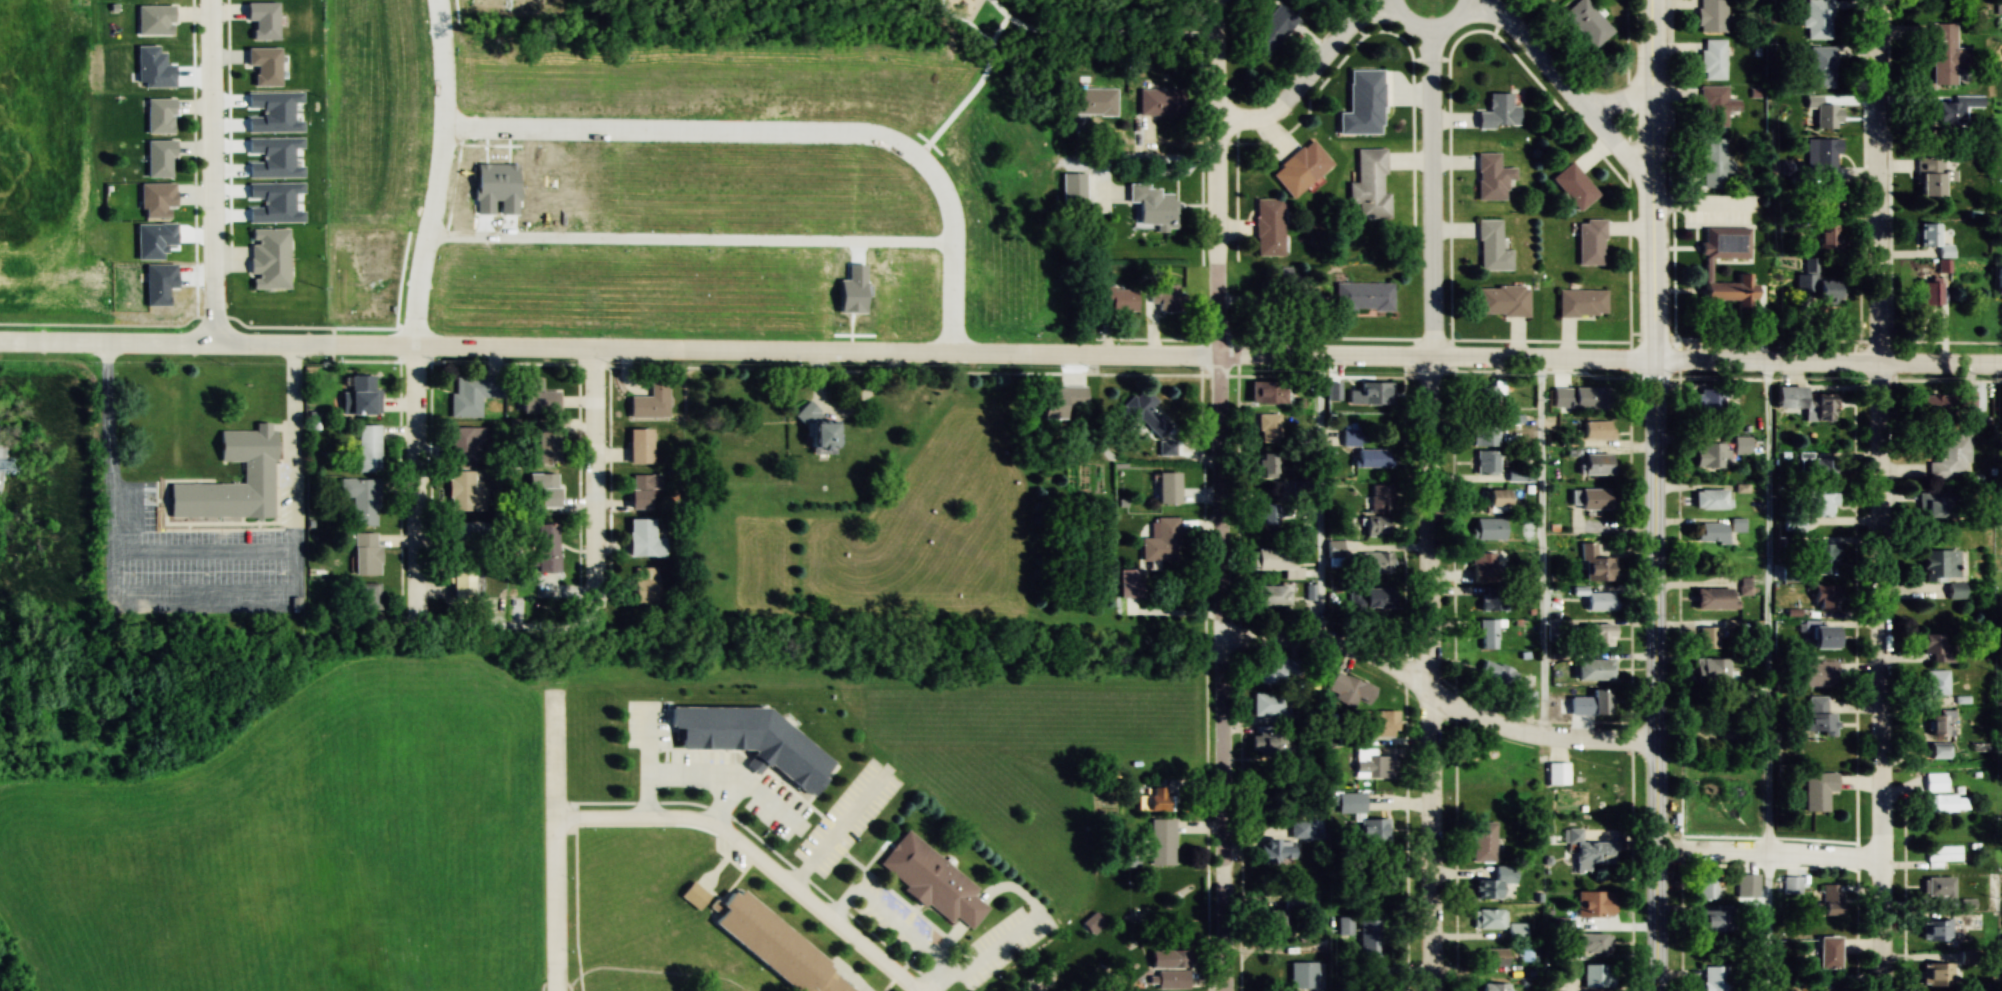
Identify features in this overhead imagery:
building: (1257, 0)
building: (1711, 15)
building: (152, 19)
building: (260, 19)
building: (1818, 19)
building: (1587, 22)
road: (1427, 26)
building: (1271, 29)
building: (1947, 54)
building: (1712, 59)
building: (262, 65)
building: (1821, 66)
road: (1306, 78)
road: (1565, 88)
building: (1092, 101)
building: (1155, 101)
building: (1362, 103)
building: (1714, 106)
building: (1954, 108)
building: (1497, 112)
building: (1824, 113)
building: (156, 115)
park: (745, 155)
building: (1825, 156)
building: (156, 158)
road: (1172, 162)
building: (1713, 162)
building: (1300, 168)
road: (213, 172)
building: (1929, 176)
building: (1490, 177)
building: (1369, 183)
building: (1573, 186)
building: (1071, 188)
building: (1825, 195)
building: (153, 199)
building: (1150, 205)
building: (1267, 226)
building: (1824, 237)
building: (1589, 242)
building: (1933, 242)
building: (1490, 247)
building: (267, 258)
building: (1943, 265)
building: (1706, 266)
building: (1998, 278)
building: (1813, 284)
building: (1927, 292)
building: (1362, 296)
building: (1118, 298)
building: (1163, 298)
building: (1501, 301)
building: (1580, 303)
road: (1000, 357)
building: (1552, 387)
building: (1265, 391)
building: (471, 393)
building: (1370, 393)
building: (1488, 393)
building: (360, 395)
building: (534, 396)
building: (1584, 397)
building: (1058, 400)
building: (649, 401)
building: (1967, 401)
building: (1804, 402)
building: (1936, 405)
building: (1142, 413)
building: (814, 427)
building: (1268, 427)
building: (1595, 430)
building: (1484, 432)
road: (292, 438)
building: (465, 443)
building: (547, 443)
building: (638, 445)
building: (367, 448)
building: (1709, 455)
building: (1371, 458)
building: (1950, 458)
building: (1485, 462)
building: (1265, 463)
building: (1594, 464)
building: (1822, 467)
building: (256, 472)
building: (1519, 476)
road: (594, 486)
building: (542, 488)
building: (641, 489)
road: (416, 491)
building: (462, 491)
road: (1219, 495)
road: (1654, 495)
road: (1881, 495)
building: (1380, 498)
building: (1591, 498)
building: (1710, 498)
building: (359, 499)
building: (1497, 500)
building: (1932, 504)
road: (1427, 508)
building: (1810, 508)
building: (1266, 513)
building: (1377, 526)
building: (1489, 528)
building: (1710, 532)
building: (466, 537)
building: (641, 539)
building: (1161, 541)
building: (544, 548)
building: (364, 554)
building: (1821, 558)
building: (1275, 562)
building: (1375, 563)
building: (1594, 564)
building: (1939, 565)
building: (1483, 566)
building: (459, 582)
building: (1129, 583)
building: (642, 585)
building: (1745, 585)
building: (1954, 590)
building: (1269, 596)
building: (365, 597)
building: (1824, 597)
building: (1368, 598)
building: (1712, 598)
building: (1599, 601)
building: (1492, 602)
road: (1766, 608)
building: (1489, 633)
building: (1821, 634)
building: (1597, 635)
building: (1708, 638)
building: (1934, 646)
building: (1591, 670)
building: (1710, 670)
building: (1277, 671)
building: (1816, 674)
building: (1496, 675)
building: (1935, 683)
building: (1353, 691)
road: (1437, 695)
building: (1600, 697)
building: (1268, 704)
building: (1572, 707)
building: (1816, 712)
building: (1377, 723)
building: (1939, 724)
building: (748, 740)
building: (1267, 741)
building: (1937, 750)
building: (1371, 763)
building: (1557, 773)
building: (1935, 782)
building: (1269, 786)
building: (1817, 790)
building: (1157, 799)
building: (1349, 803)
building: (1946, 803)
building: (1300, 829)
building: (1372, 830)
road: (554, 839)
building: (1483, 841)
building: (1161, 842)
building: (1587, 851)
road: (1767, 851)
building: (1276, 852)
building: (1943, 853)
road: (754, 855)
building: (930, 880)
building: (1494, 884)
building: (1792, 885)
building: (1706, 886)
building: (1937, 886)
building: (692, 895)
building: (1829, 900)
building: (1593, 904)
building: (1488, 919)
building: (1711, 921)
building: (1272, 922)
building: (1092, 923)
building: (1934, 930)
building: (1516, 932)
building: (1368, 940)
building: (1590, 942)
building: (774, 947)
building: (1827, 953)
building: (1491, 958)
building: (1169, 969)
building: (1302, 975)
building: (1937, 975)
building: (1595, 976)
building: (1713, 978)
building: (1495, 987)

